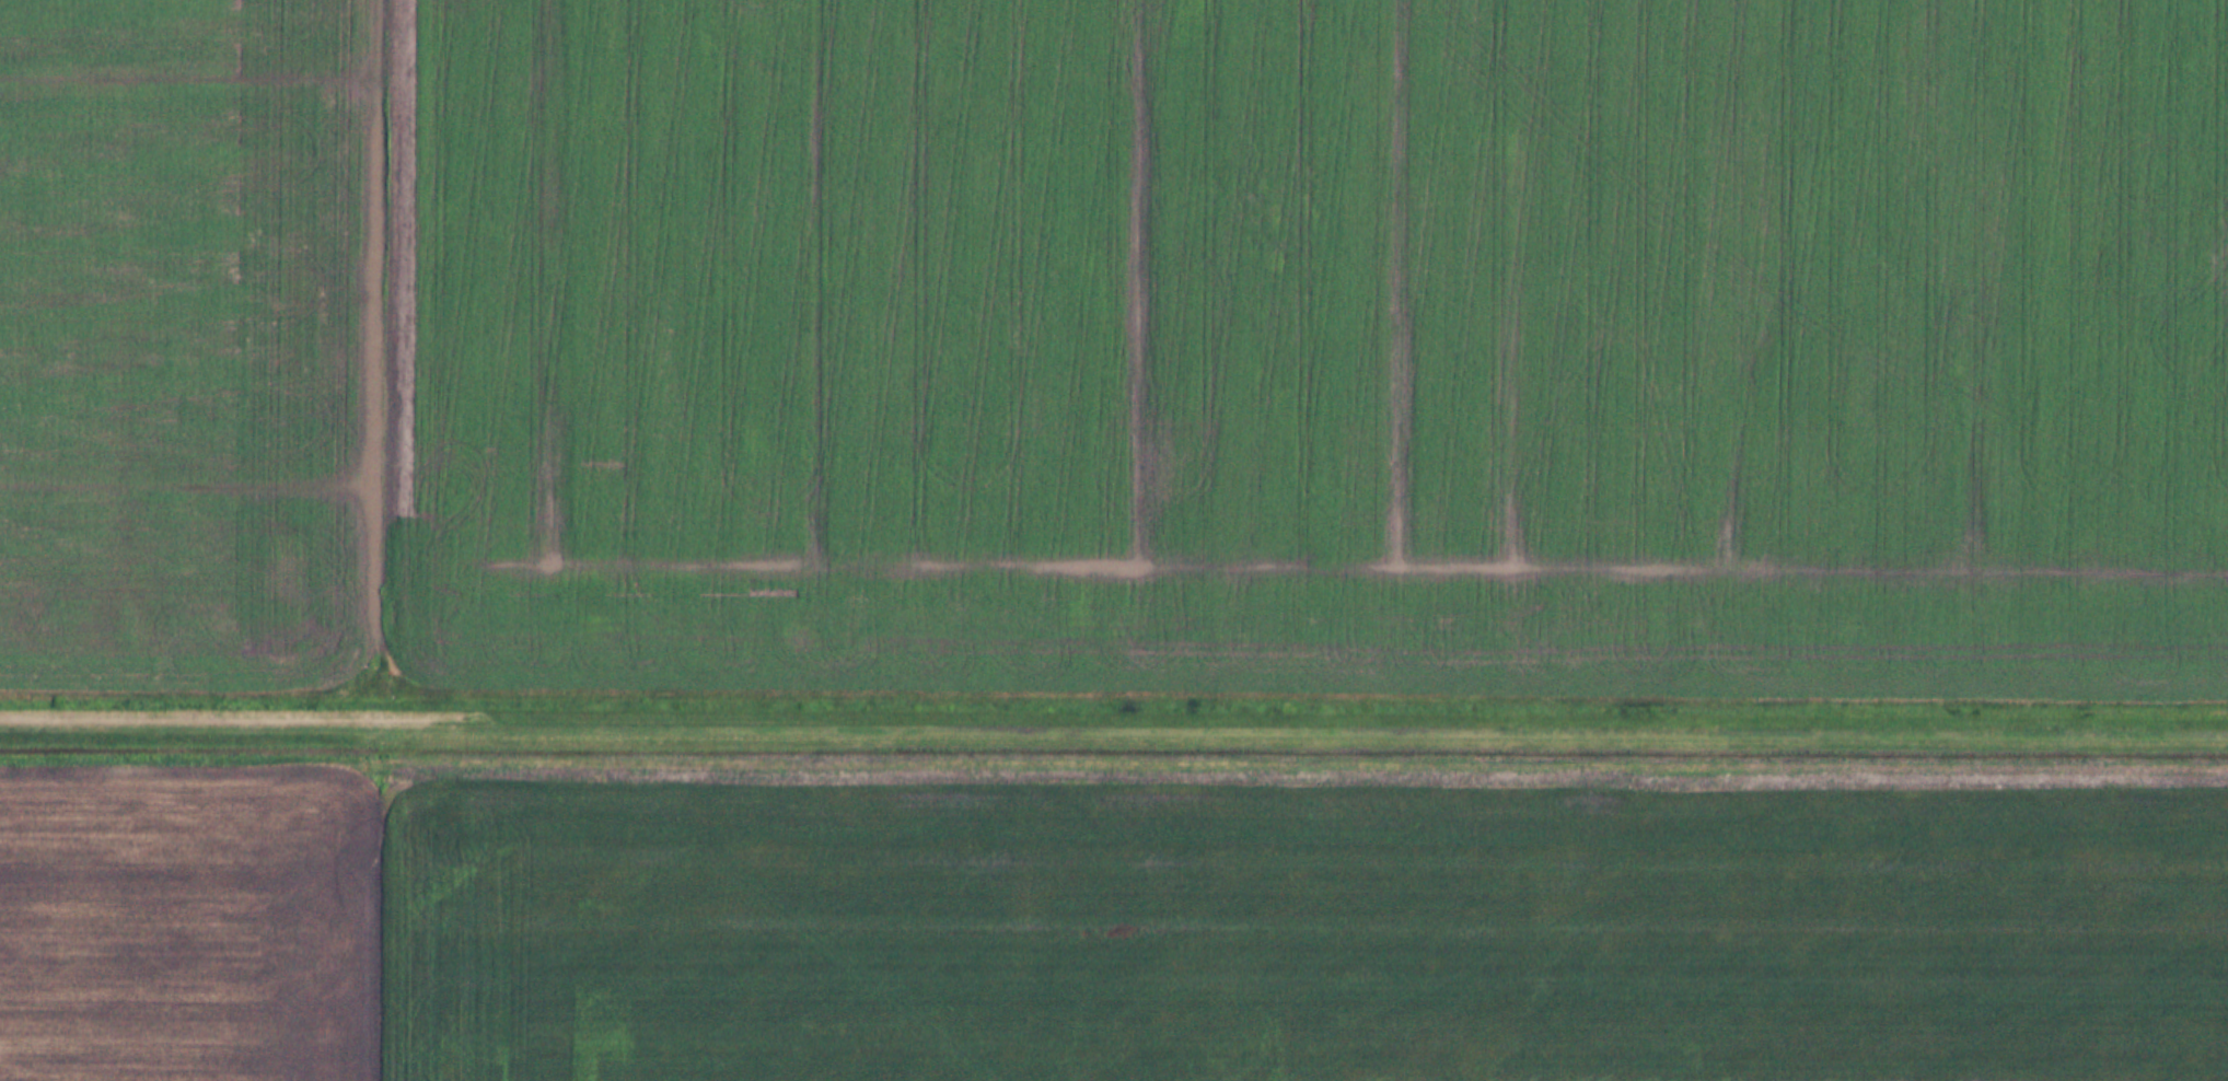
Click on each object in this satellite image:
road: (1114, 730)

